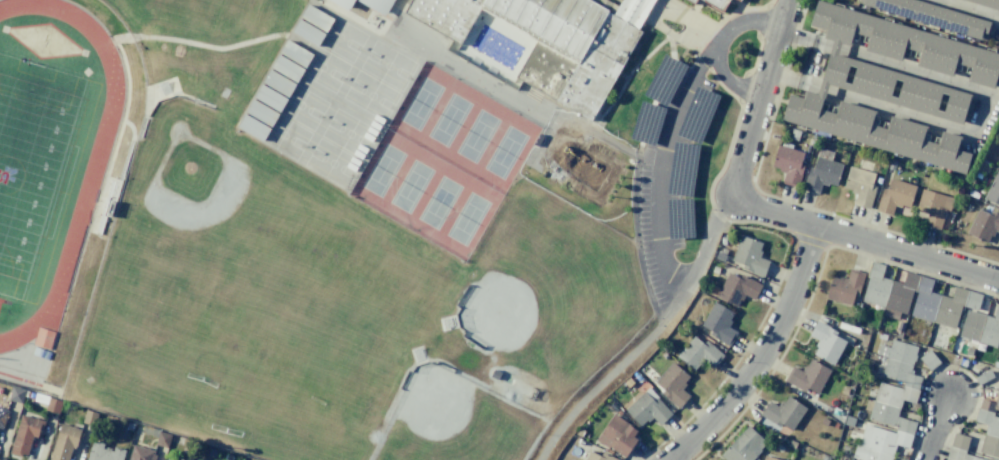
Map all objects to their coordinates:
building: (738, 0)
building: (692, 1)
building: (343, 3)
building: (717, 3)
building: (987, 3)
road: (738, 4)
building: (377, 5)
road: (968, 9)
road: (739, 10)
building: (933, 16)
road: (688, 17)
park: (338, 37)
road: (167, 38)
building: (553, 40)
road: (716, 45)
road: (669, 46)
building: (455, 47)
park: (387, 65)
park: (320, 67)
road: (662, 79)
road: (484, 80)
road: (624, 80)
building: (664, 80)
building: (892, 87)
park: (370, 95)
road: (760, 100)
road: (652, 102)
park: (420, 103)
park: (299, 104)
road: (980, 114)
building: (697, 115)
park: (448, 120)
road: (645, 122)
building: (647, 123)
park: (348, 133)
park: (282, 134)
park: (476, 136)
building: (537, 140)
road: (543, 142)
road: (638, 148)
park: (504, 152)
park: (29, 157)
park: (331, 163)
building: (788, 163)
building: (579, 165)
road: (659, 167)
building: (682, 169)
park: (182, 170)
park: (382, 170)
building: (822, 171)
parking lot: (666, 176)
building: (860, 185)
park: (410, 186)
building: (993, 190)
building: (895, 196)
track: (85, 198)
building: (105, 202)
park: (438, 203)
building: (933, 208)
building: (680, 218)
park: (466, 219)
building: (983, 225)
road: (706, 240)
road: (863, 240)
road: (636, 241)
park: (321, 254)
building: (749, 256)
park: (552, 287)
building: (737, 288)
building: (844, 288)
building: (915, 297)
building: (719, 323)
building: (981, 327)
building: (826, 342)
park: (262, 353)
building: (698, 353)
road: (763, 354)
building: (928, 359)
road: (612, 371)
building: (807, 376)
building: (983, 377)
building: (672, 384)
building: (16, 394)
building: (52, 405)
building: (889, 406)
building: (647, 408)
building: (781, 414)
building: (2, 417)
park: (455, 421)
building: (989, 426)
road: (934, 429)
building: (25, 434)
building: (618, 435)
building: (64, 442)
building: (744, 446)
building: (103, 452)
building: (140, 453)
building: (598, 456)
building: (768, 458)
building: (166, 459)

